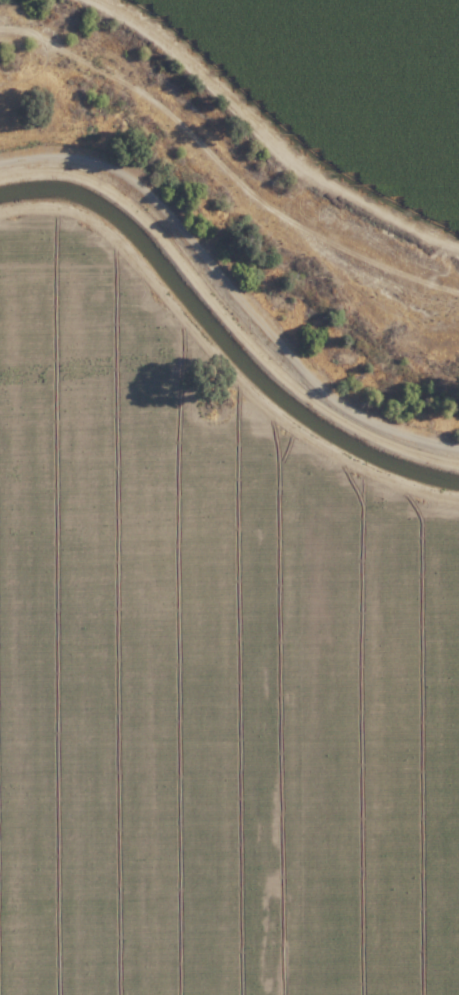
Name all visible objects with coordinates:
crop: (334, 95)
crop: (205, 674)

